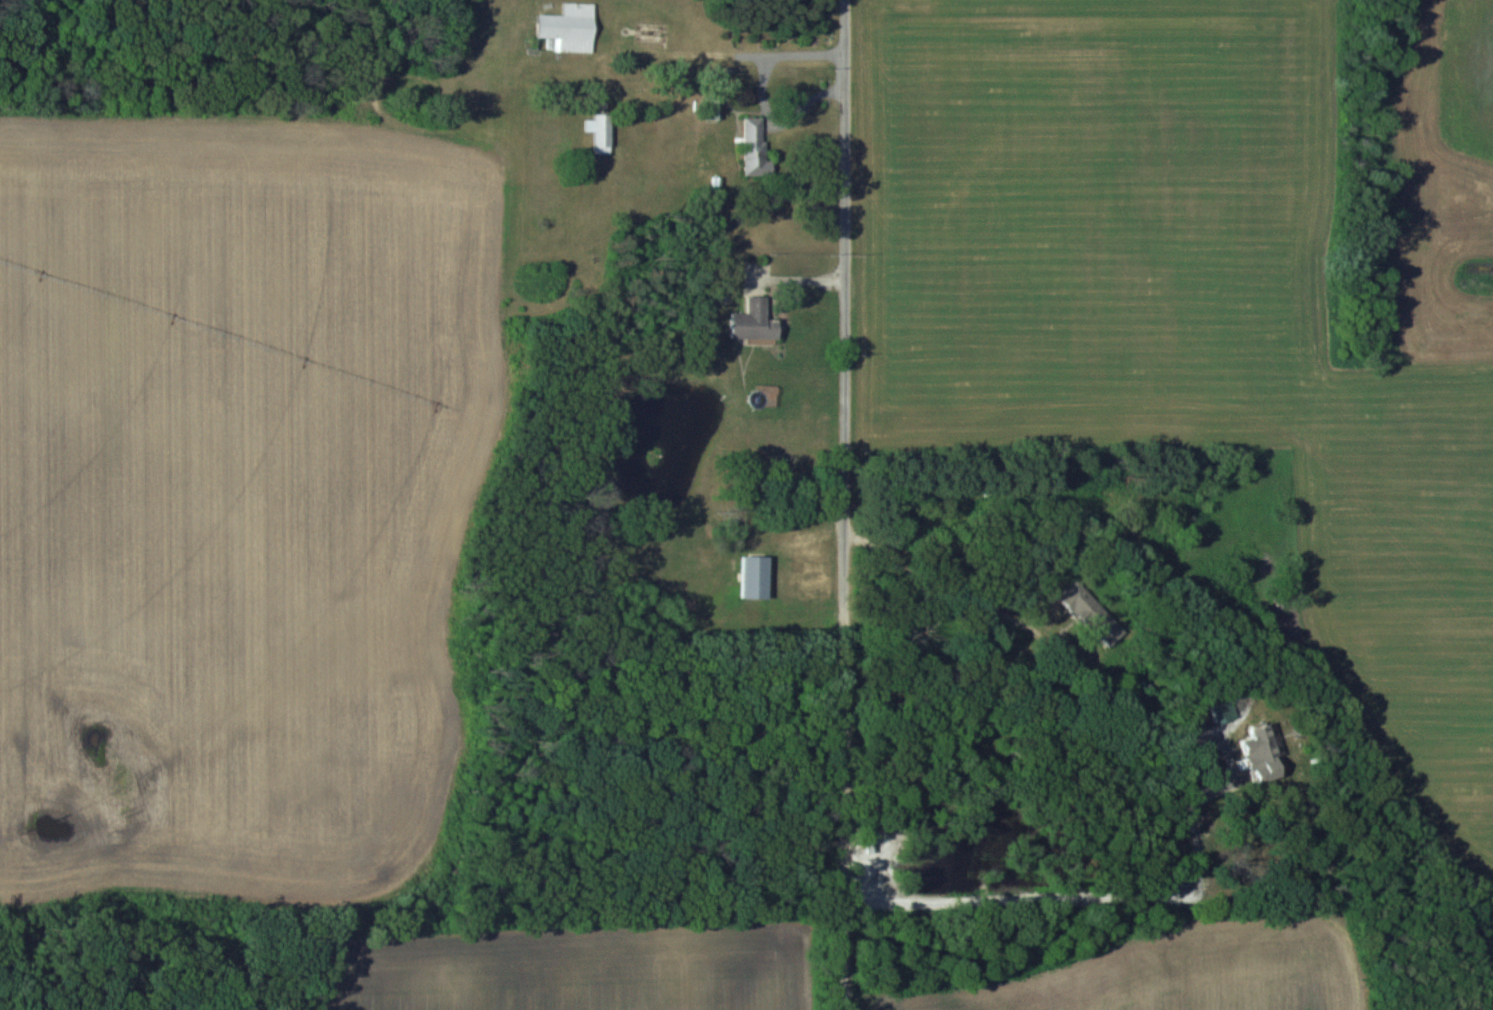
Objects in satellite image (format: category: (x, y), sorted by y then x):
building: (563, 27)
building: (651, 35)
building: (600, 133)
building: (753, 146)
building: (751, 320)
road: (839, 504)
building: (752, 577)
road: (949, 583)
building: (1084, 610)
building: (1261, 739)
road: (1080, 894)

